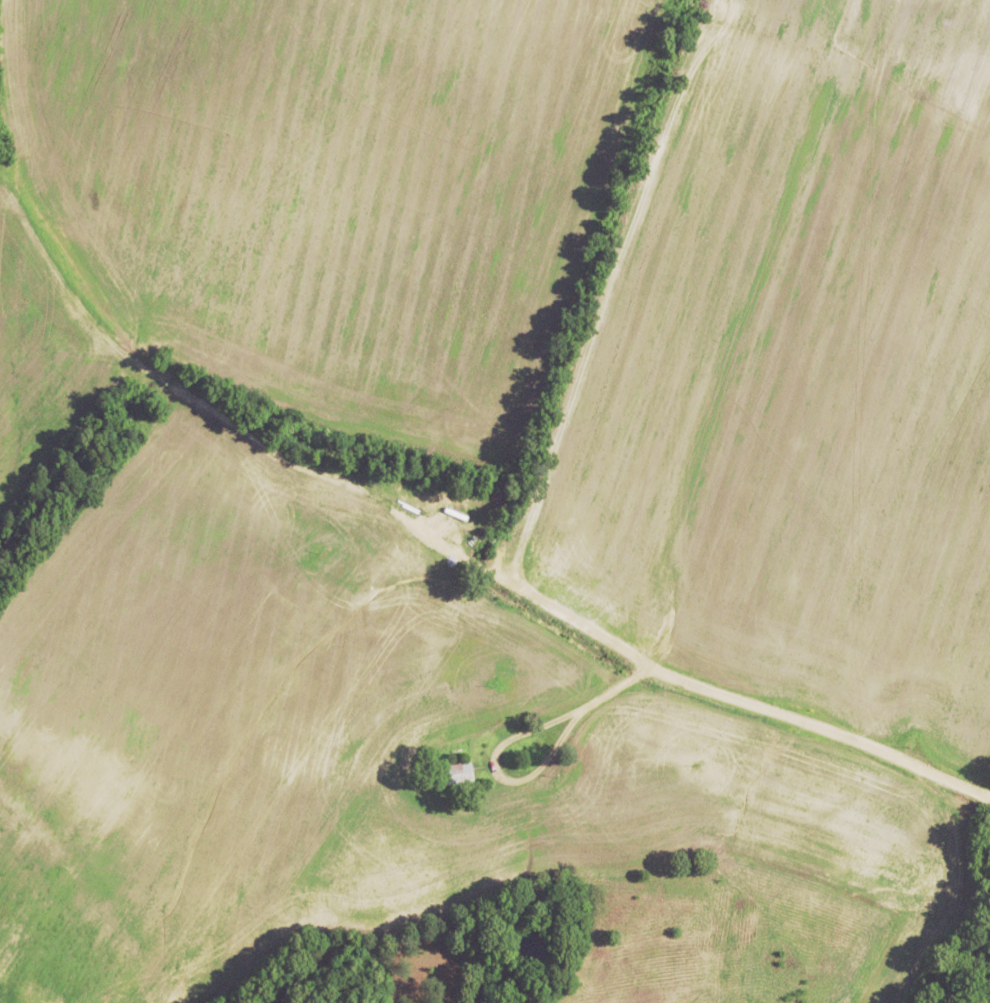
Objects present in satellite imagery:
road: (452, 550)
building: (458, 772)

